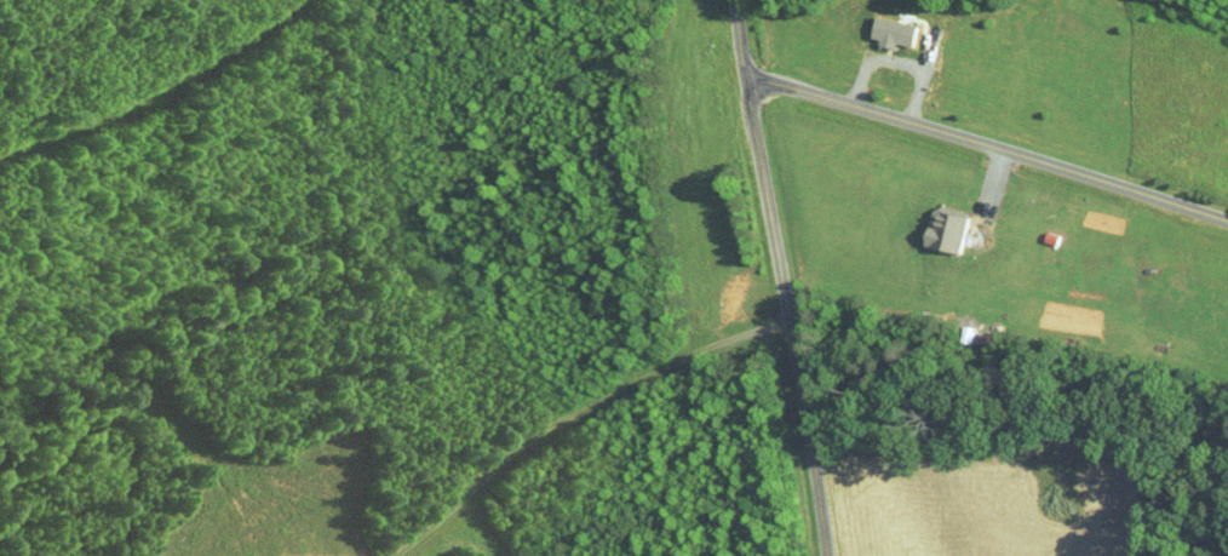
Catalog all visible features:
building: (884, 24)
road: (896, 59)
road: (987, 145)
building: (937, 222)
road: (782, 277)

